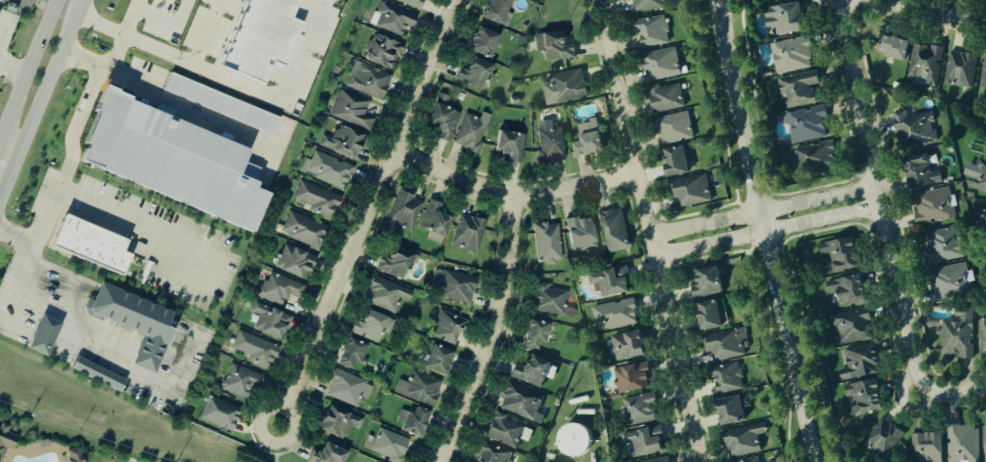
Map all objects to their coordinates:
building: (176, 0)
building: (415, 3)
building: (650, 4)
road: (722, 5)
road: (723, 5)
road: (834, 5)
building: (501, 11)
road: (936, 11)
building: (0, 13)
road: (64, 14)
building: (788, 18)
building: (396, 19)
building: (654, 31)
road: (208, 34)
road: (127, 37)
building: (263, 37)
building: (488, 42)
building: (556, 45)
building: (898, 47)
building: (384, 52)
building: (793, 54)
building: (663, 63)
building: (924, 63)
road: (13, 67)
road: (28, 67)
building: (961, 68)
building: (478, 74)
building: (984, 78)
building: (369, 81)
road: (229, 83)
building: (565, 87)
building: (800, 88)
road: (855, 91)
building: (668, 97)
road: (42, 99)
road: (183, 104)
building: (220, 104)
building: (353, 110)
building: (445, 118)
building: (807, 124)
building: (676, 127)
building: (916, 128)
building: (473, 132)
building: (591, 138)
building: (345, 142)
building: (551, 142)
building: (513, 145)
road: (70, 156)
building: (816, 156)
building: (179, 160)
building: (678, 160)
building: (328, 170)
building: (923, 172)
building: (979, 175)
building: (692, 190)
road: (513, 194)
building: (318, 200)
building: (936, 205)
road: (763, 210)
building: (404, 211)
road: (369, 212)
building: (984, 216)
road: (134, 220)
building: (437, 222)
building: (616, 228)
building: (305, 230)
road: (650, 231)
road: (767, 231)
building: (469, 233)
building: (583, 234)
road: (764, 236)
building: (548, 243)
building: (945, 244)
building: (91, 245)
building: (844, 253)
building: (297, 262)
building: (398, 264)
building: (955, 280)
building: (612, 281)
building: (710, 282)
building: (454, 286)
road: (896, 286)
building: (280, 289)
building: (851, 290)
building: (387, 294)
building: (552, 301)
road: (45, 306)
building: (615, 314)
building: (712, 315)
building: (271, 321)
building: (138, 322)
building: (371, 326)
building: (450, 326)
building: (854, 326)
road: (494, 332)
building: (538, 334)
building: (958, 334)
building: (44, 335)
building: (982, 338)
building: (726, 344)
building: (629, 345)
building: (256, 350)
building: (355, 353)
building: (441, 360)
building: (861, 361)
building: (533, 371)
building: (98, 375)
building: (633, 377)
building: (729, 377)
building: (240, 381)
road: (902, 387)
building: (420, 388)
building: (349, 389)
road: (954, 390)
building: (866, 396)
building: (521, 402)
road: (928, 405)
building: (641, 408)
building: (734, 409)
building: (221, 414)
building: (415, 421)
building: (340, 422)
building: (505, 431)
building: (985, 438)
building: (745, 439)
building: (883, 439)
building: (7, 440)
building: (646, 441)
building: (964, 443)
building: (390, 445)
building: (930, 447)
road: (259, 448)
road: (284, 453)
building: (330, 454)
building: (77, 455)
building: (494, 455)
road: (276, 458)
building: (659, 460)
building: (751, 460)

